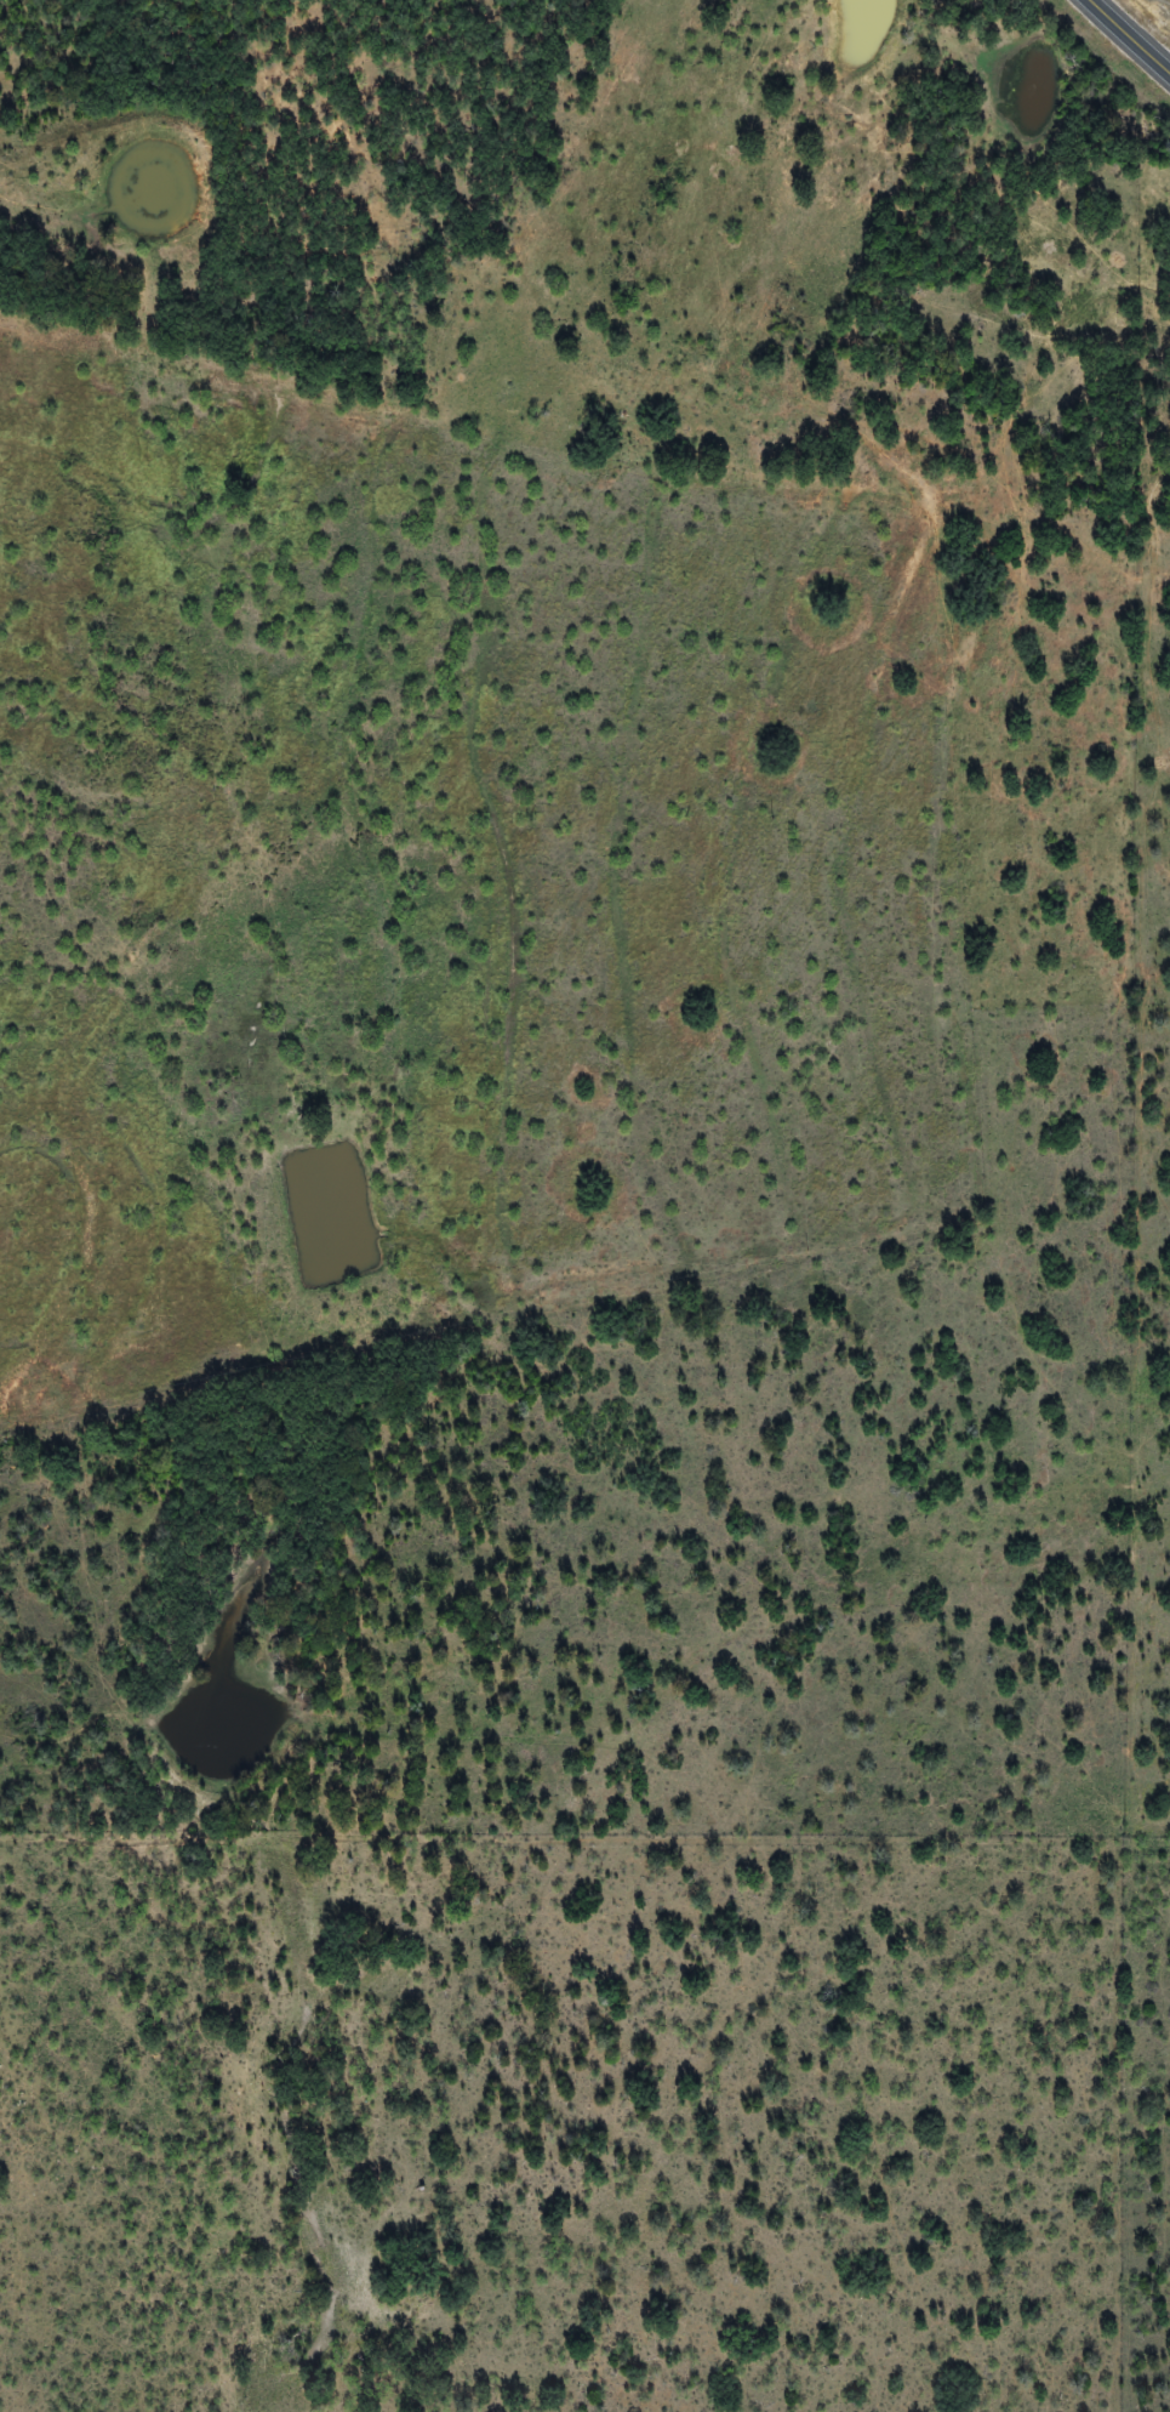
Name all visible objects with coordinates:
road: (1125, 41)

